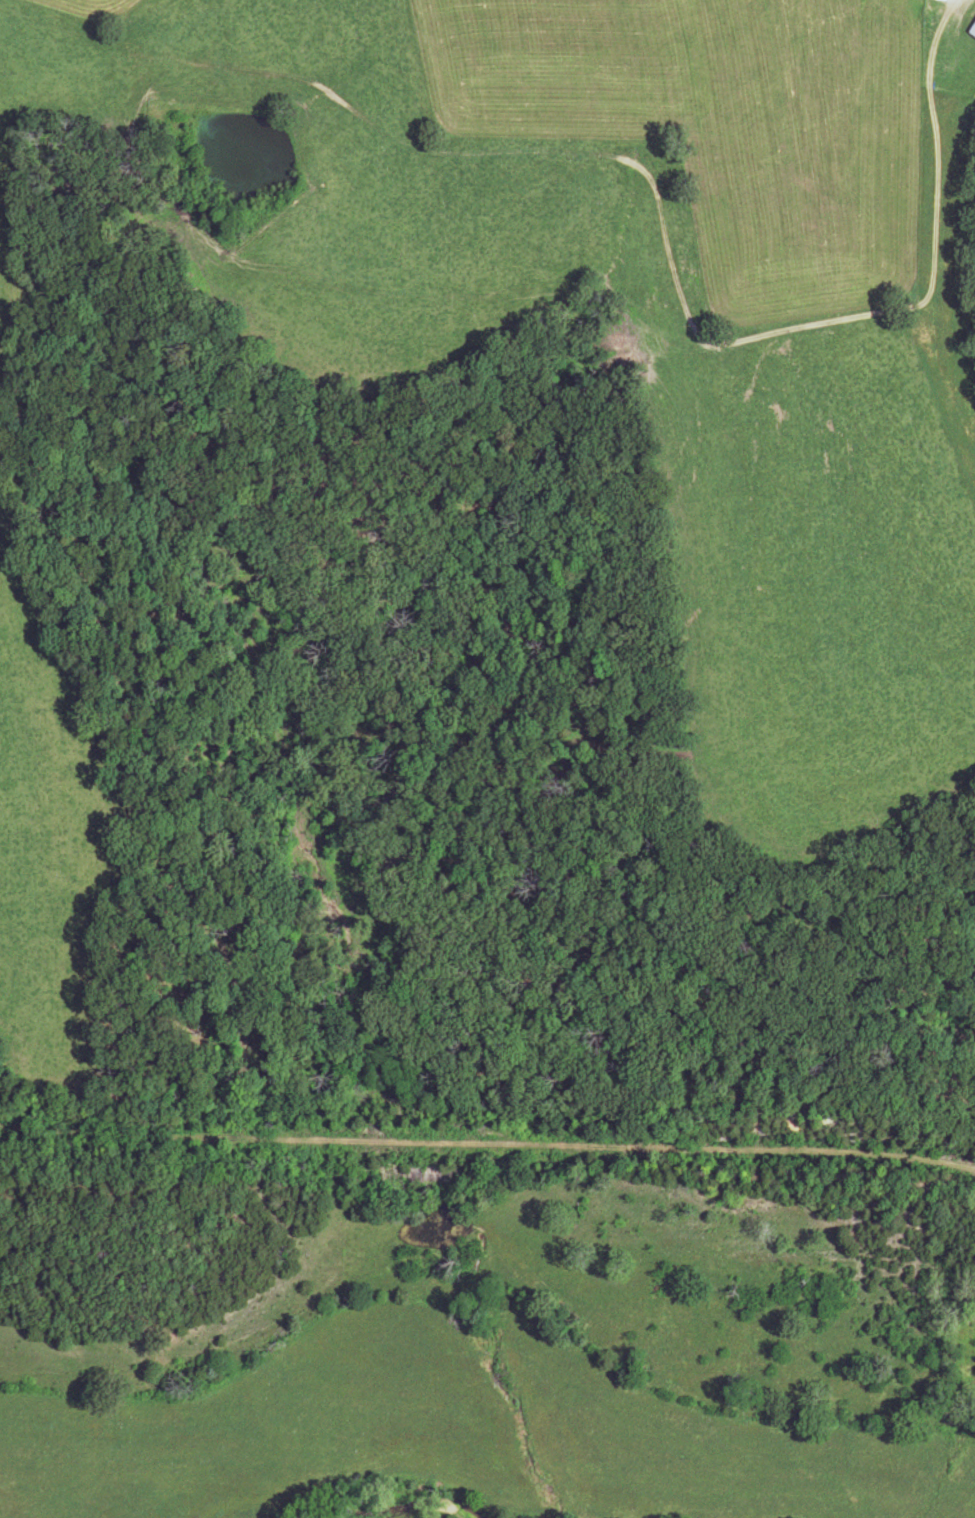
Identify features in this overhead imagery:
building: (973, 31)

